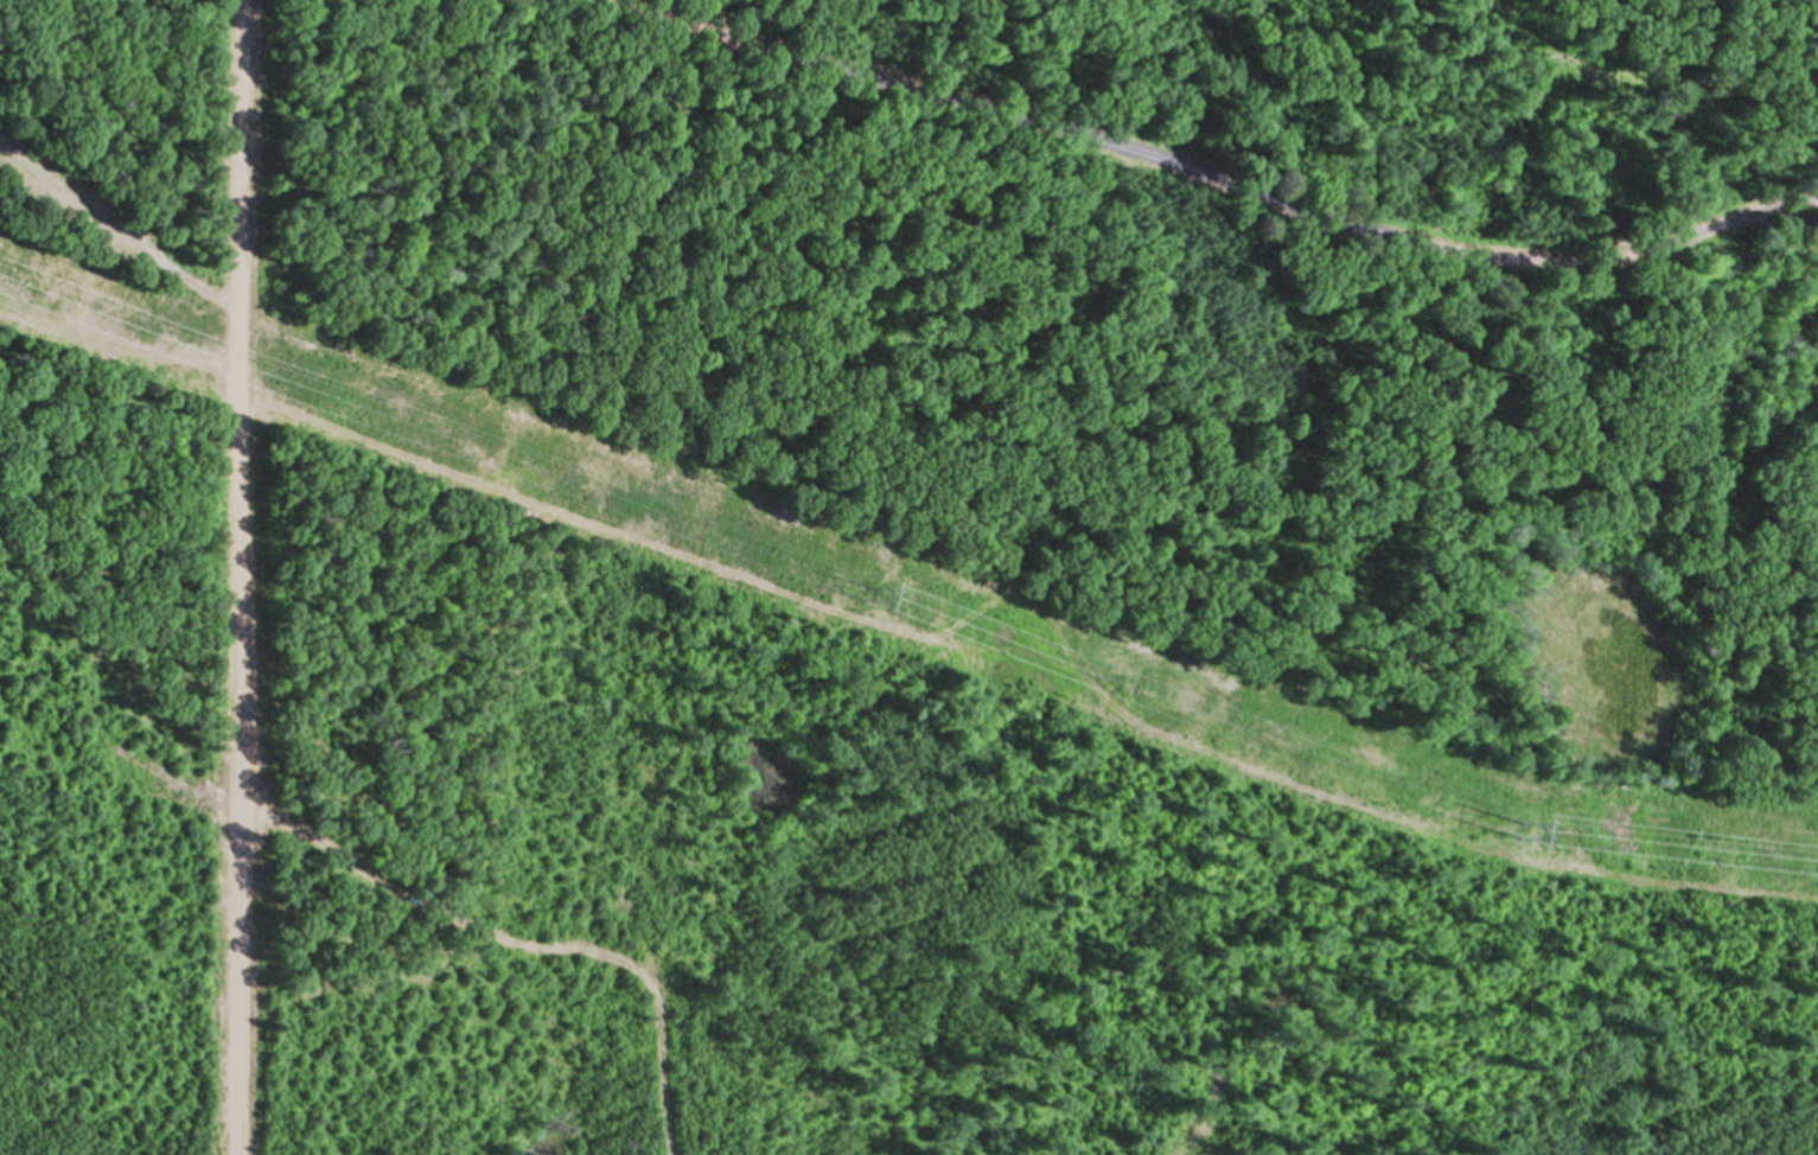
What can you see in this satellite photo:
road: (1213, 178)
road: (240, 576)
power tower: (855, 594)
power tower: (1523, 837)

